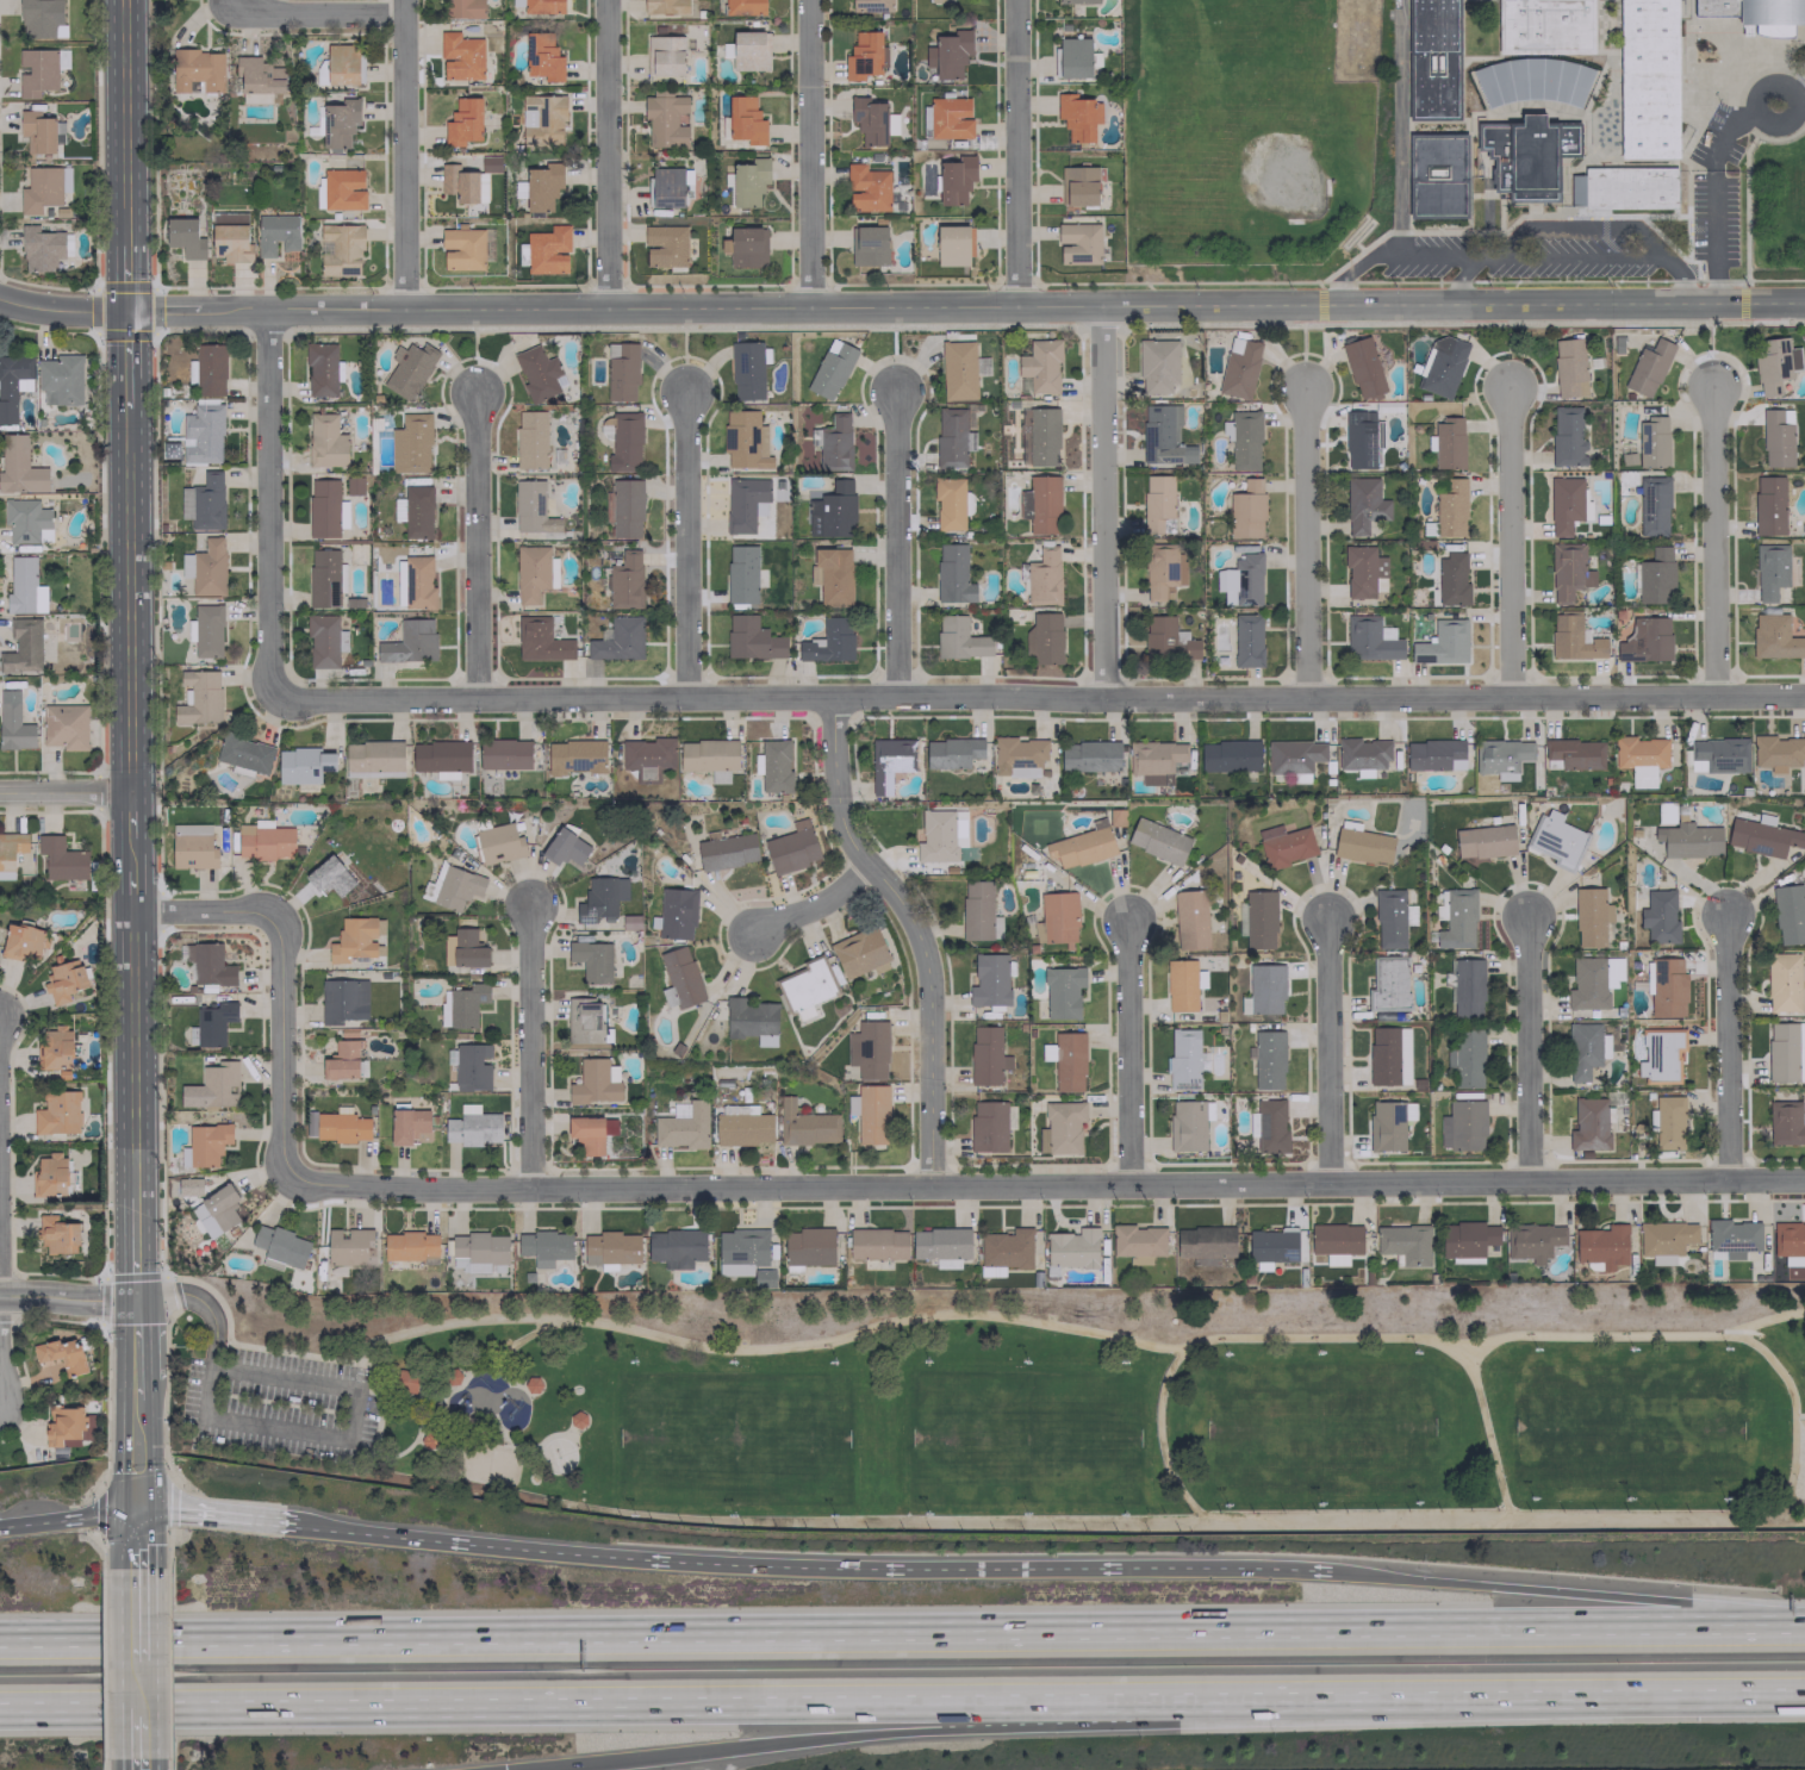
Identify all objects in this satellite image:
building: (1077, 1)
building: (516, 2)
building: (870, 5)
building: (542, 6)
building: (665, 6)
building: (743, 6)
building: (462, 8)
building: (1755, 13)
road: (318, 15)
building: (41, 18)
building: (1544, 26)
building: (749, 50)
building: (948, 54)
building: (664, 55)
building: (861, 55)
building: (460, 56)
building: (1071, 57)
building: (542, 58)
building: (1433, 60)
building: (341, 63)
building: (38, 69)
building: (197, 69)
building: (257, 75)
building: (1647, 79)
building: (1531, 81)
road: (1760, 89)
building: (948, 117)
building: (1075, 117)
building: (541, 119)
building: (664, 119)
building: (462, 120)
building: (745, 120)
building: (869, 120)
building: (338, 121)
road: (123, 123)
building: (37, 131)
road: (1013, 152)
road: (604, 154)
road: (805, 154)
road: (403, 155)
building: (1526, 155)
building: (1436, 175)
building: (954, 177)
building: (748, 181)
building: (462, 183)
building: (541, 186)
building: (1077, 186)
building: (43, 187)
building: (666, 187)
building: (866, 187)
building: (1623, 187)
building: (342, 188)
road: (1712, 198)
road: (1580, 226)
building: (275, 233)
building: (186, 236)
building: (230, 236)
building: (1077, 243)
building: (665, 244)
building: (867, 245)
building: (951, 245)
building: (745, 247)
building: (466, 248)
building: (41, 249)
building: (341, 249)
building: (547, 250)
road: (1483, 255)
road: (124, 278)
road: (1678, 278)
road: (1457, 279)
road: (964, 306)
road: (61, 310)
road: (125, 360)
building: (1774, 363)
building: (1040, 364)
building: (1156, 364)
building: (1362, 367)
building: (1443, 367)
building: (1568, 367)
building: (830, 368)
building: (1647, 368)
building: (208, 369)
building: (322, 369)
building: (747, 369)
building: (957, 369)
building: (1239, 370)
building: (621, 372)
building: (539, 373)
building: (58, 379)
building: (12, 385)
building: (201, 434)
building: (1163, 435)
building: (953, 436)
building: (1041, 436)
building: (1567, 436)
building: (1775, 437)
building: (529, 438)
building: (1241, 438)
building: (743, 440)
building: (1361, 440)
building: (325, 441)
building: (623, 441)
building: (1651, 441)
building: (410, 443)
building: (834, 443)
building: (1448, 443)
building: (19, 467)
building: (203, 501)
road: (1100, 501)
building: (742, 503)
building: (1157, 503)
building: (950, 504)
building: (1023, 504)
building: (1042, 504)
building: (1363, 504)
building: (1566, 504)
building: (1652, 505)
building: (1767, 505)
road: (264, 506)
building: (531, 507)
building: (624, 507)
building: (1450, 507)
building: (324, 509)
building: (413, 510)
building: (832, 510)
building: (1246, 510)
building: (25, 521)
road: (1711, 540)
road: (1302, 541)
road: (1510, 541)
road: (683, 542)
road: (892, 544)
road: (478, 547)
building: (205, 567)
building: (1769, 569)
building: (1162, 571)
building: (1567, 571)
building: (533, 572)
building: (1363, 572)
building: (741, 573)
building: (952, 573)
building: (833, 575)
building: (1655, 575)
building: (325, 577)
building: (1042, 578)
building: (1451, 579)
building: (624, 580)
building: (1240, 580)
building: (417, 582)
building: (24, 586)
building: (206, 630)
building: (1774, 636)
building: (1044, 637)
building: (1571, 637)
building: (751, 638)
building: (958, 638)
building: (1166, 638)
building: (1369, 638)
building: (323, 640)
building: (540, 640)
building: (617, 640)
building: (1246, 640)
building: (1644, 640)
building: (828, 641)
building: (409, 642)
building: (1442, 642)
building: (23, 646)
building: (198, 696)
road: (1035, 698)
building: (13, 722)
building: (64, 725)
building: (951, 752)
building: (1776, 752)
building: (504, 753)
building: (1361, 753)
building: (1571, 753)
building: (243, 754)
building: (1433, 754)
building: (1717, 754)
building: (1228, 755)
building: (574, 756)
building: (647, 756)
building: (709, 756)
building: (1017, 756)
building: (1089, 756)
building: (1294, 756)
building: (1500, 756)
building: (373, 758)
building: (1639, 758)
building: (1154, 760)
building: (889, 761)
building: (303, 765)
building: (774, 766)
road: (66, 791)
road: (132, 803)
building: (936, 836)
building: (1761, 837)
building: (1555, 839)
building: (263, 840)
building: (1157, 840)
building: (1688, 840)
building: (1483, 841)
building: (498, 842)
building: (1361, 843)
building: (1081, 845)
building: (1283, 845)
building: (192, 846)
building: (564, 847)
building: (791, 847)
building: (726, 850)
building: (10, 852)
building: (61, 858)
building: (329, 875)
building: (454, 887)
building: (599, 897)
road: (816, 902)
building: (978, 911)
building: (674, 914)
building: (1787, 914)
road: (210, 915)
building: (1058, 916)
building: (1658, 916)
building: (1390, 917)
building: (1589, 917)
building: (1189, 920)
building: (1258, 920)
building: (1456, 920)
road: (920, 931)
building: (353, 939)
building: (21, 941)
building: (462, 948)
building: (858, 951)
building: (591, 960)
building: (207, 964)
building: (678, 978)
building: (989, 979)
building: (63, 980)
building: (1592, 981)
building: (1784, 981)
building: (1387, 983)
building: (807, 984)
building: (1182, 984)
building: (1465, 987)
building: (1667, 987)
building: (1264, 989)
building: (1062, 991)
building: (342, 999)
building: (461, 1004)
building: (804, 1012)
building: (752, 1020)
building: (212, 1022)
building: (54, 1047)
road: (531, 1048)
building: (1585, 1048)
road: (1730, 1048)
building: (867, 1049)
road: (1529, 1049)
road: (282, 1051)
building: (1786, 1051)
road: (1129, 1052)
road: (1328, 1052)
building: (1660, 1054)
building: (985, 1055)
building: (1388, 1055)
building: (1183, 1058)
building: (1268, 1059)
building: (1465, 1059)
building: (342, 1060)
building: (1065, 1060)
building: (471, 1066)
building: (212, 1086)
building: (851, 1104)
building: (57, 1113)
building: (871, 1114)
building: (1009, 1116)
building: (1668, 1122)
building: (1188, 1123)
building: (1785, 1123)
building: (406, 1124)
building: (805, 1124)
building: (1387, 1124)
building: (1588, 1124)
building: (742, 1126)
building: (986, 1126)
building: (1268, 1126)
building: (1462, 1126)
building: (342, 1127)
building: (681, 1127)
building: (1060, 1127)
building: (472, 1128)
building: (590, 1132)
building: (206, 1142)
building: (49, 1174)
building: (186, 1186)
road: (1044, 1186)
building: (220, 1205)
building: (57, 1235)
road: (135, 1235)
building: (1731, 1236)
building: (1468, 1238)
building: (1663, 1239)
building: (1334, 1241)
building: (1532, 1241)
building: (1137, 1242)
building: (1203, 1242)
building: (1403, 1242)
building: (1788, 1242)
building: (877, 1244)
building: (940, 1245)
building: (1601, 1245)
building: (349, 1246)
building: (409, 1246)
building: (543, 1246)
building: (676, 1246)
building: (807, 1246)
building: (1270, 1246)
building: (279, 1247)
building: (610, 1248)
building: (1071, 1248)
building: (740, 1251)
building: (1004, 1251)
building: (478, 1252)
road: (110, 1276)
road: (133, 1288)
road: (66, 1298)
road: (200, 1301)
road: (957, 1314)
road: (522, 1338)
road: (135, 1350)
street lamp: (1630, 1350)
street lamp: (1724, 1350)
street lamp: (1319, 1352)
street lamp: (1532, 1352)
street lamp: (1415, 1353)
building: (61, 1354)
street lamp: (1225, 1355)
street lamp: (635, 1360)
street lamp: (925, 1361)
street lamp: (732, 1363)
street lamp: (1026, 1363)
street lamp: (1124, 1363)
street lamp: (834, 1364)
road: (471, 1371)
building: (450, 1376)
road: (307, 1381)
building: (406, 1381)
building: (533, 1384)
park: (701, 1401)
parking lot: (279, 1403)
road: (415, 1404)
park: (1489, 1407)
road: (1792, 1414)
road: (1799, 1415)
building: (578, 1419)
road: (162, 1421)
road: (250, 1422)
building: (63, 1426)
park: (1319, 1427)
park: (1629, 1427)
road: (500, 1431)
park: (733, 1436)
park: (1025, 1436)
building: (429, 1440)
park: (556, 1456)
road: (135, 1457)
park: (487, 1463)
street lamp: (1531, 1501)
street lamp: (1626, 1501)
street lamp: (1723, 1501)
street lamp: (1319, 1504)
street lamp: (1415, 1504)
street lamp: (1226, 1507)
road: (1551, 1512)
road: (219, 1515)
street lamp: (926, 1515)
street lamp: (1025, 1515)
street lamp: (1124, 1515)
street lamp: (634, 1516)
road: (67, 1519)
street lamp: (733, 1519)
street lamp: (833, 1519)
road: (1258, 1519)
road: (766, 1521)
road: (135, 1531)
road: (815, 1568)
road: (1566, 1594)
road: (136, 1607)
road: (902, 1631)
road: (167, 1663)
road: (137, 1685)
road: (1529, 1700)
road: (625, 1706)
road: (889, 1733)
road: (137, 1738)

